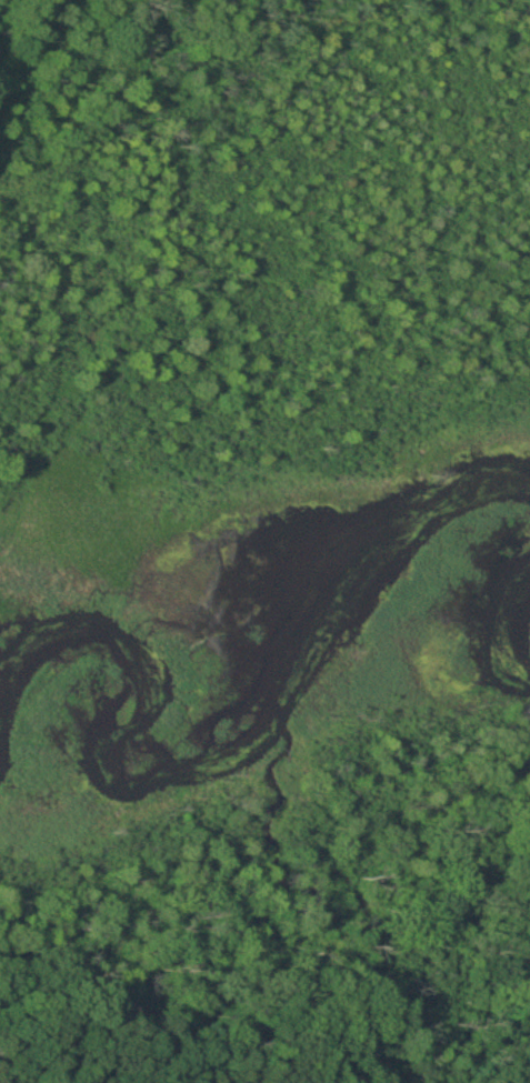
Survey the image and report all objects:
river: (503, 470)
river: (522, 626)
river: (168, 770)

